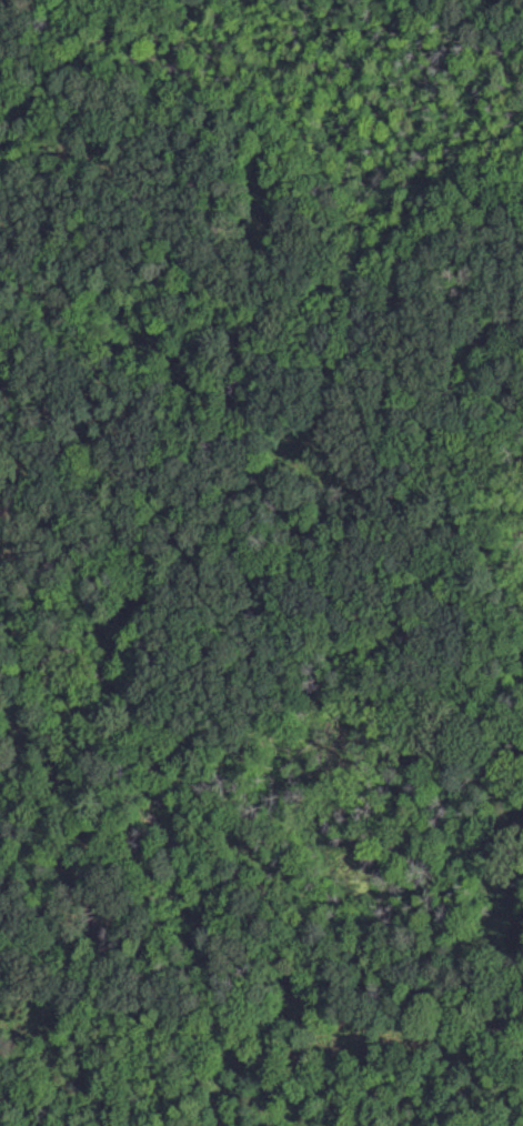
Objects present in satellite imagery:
road: (123, 882)

